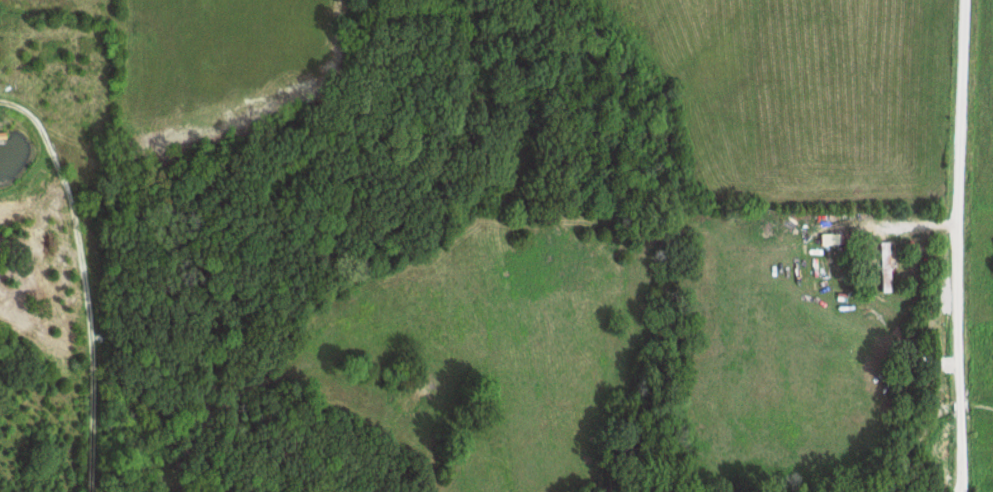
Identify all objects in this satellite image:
road: (963, 245)
building: (888, 265)
road: (93, 278)

